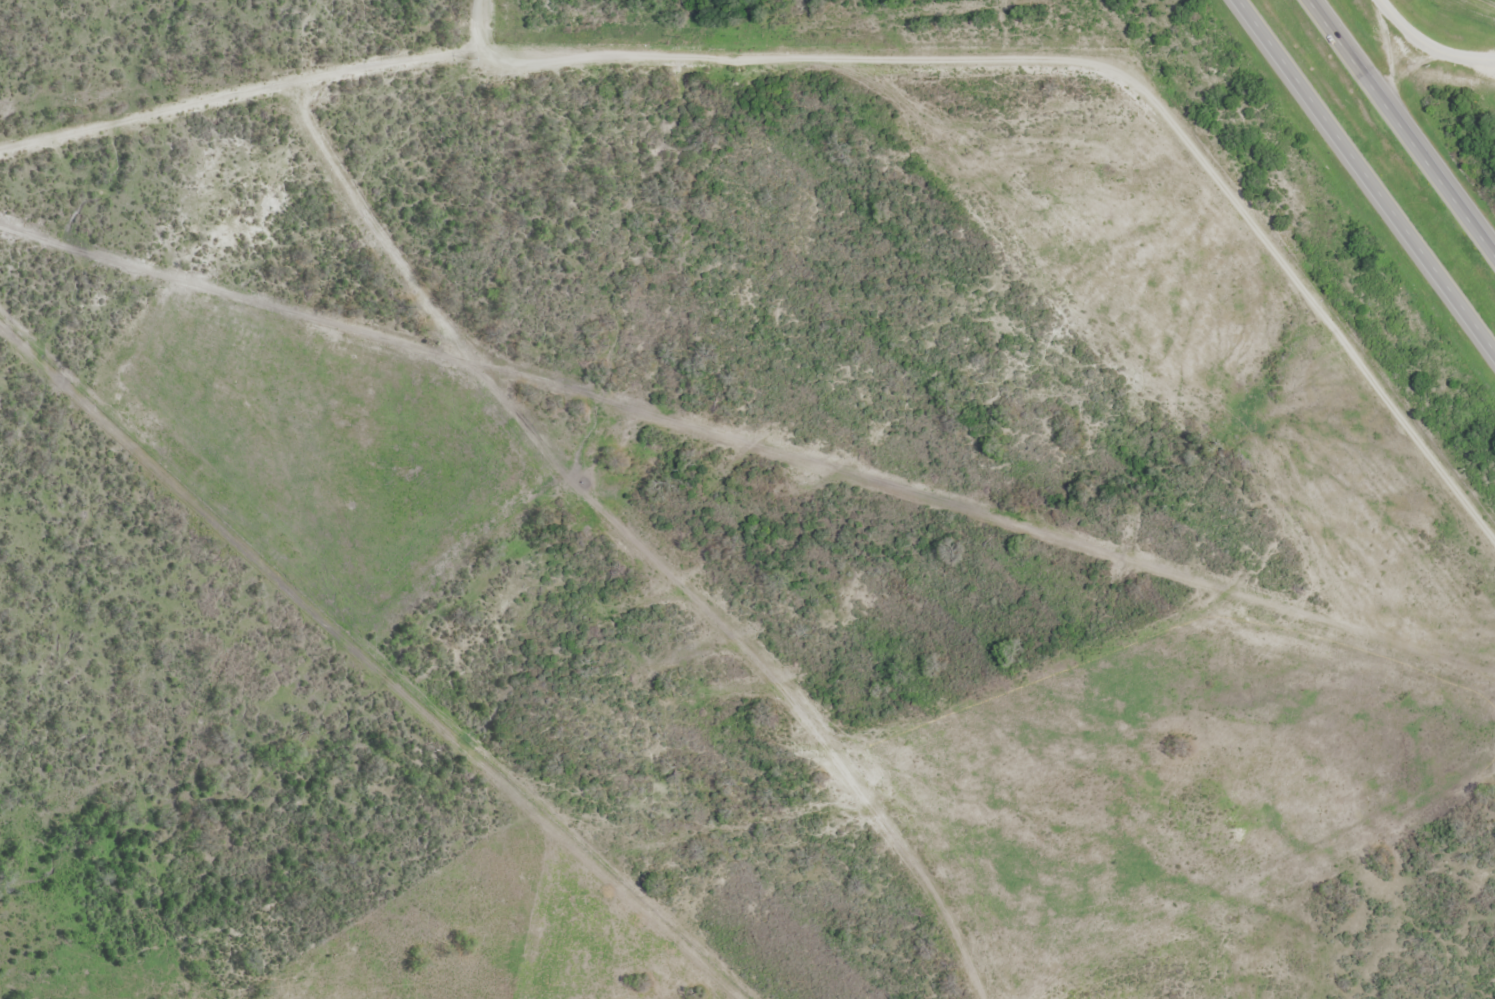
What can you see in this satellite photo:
road: (480, 25)
road: (1428, 47)
road: (859, 61)
road: (1403, 125)
road: (1369, 173)

